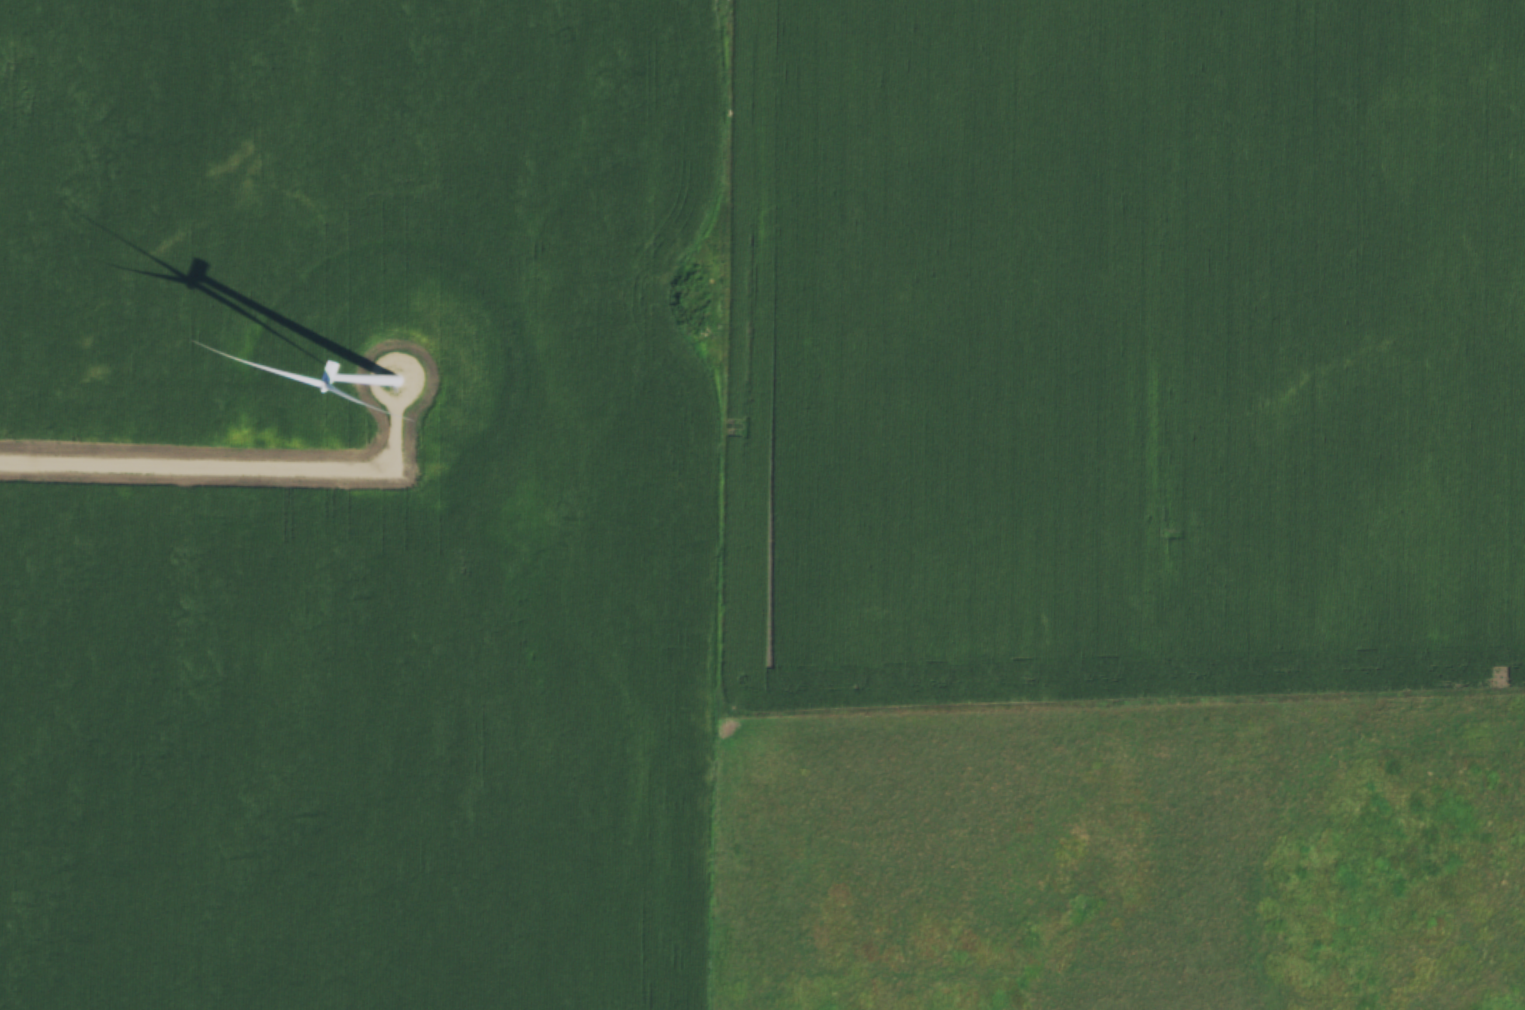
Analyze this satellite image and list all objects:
wind turbine: (394, 390)

